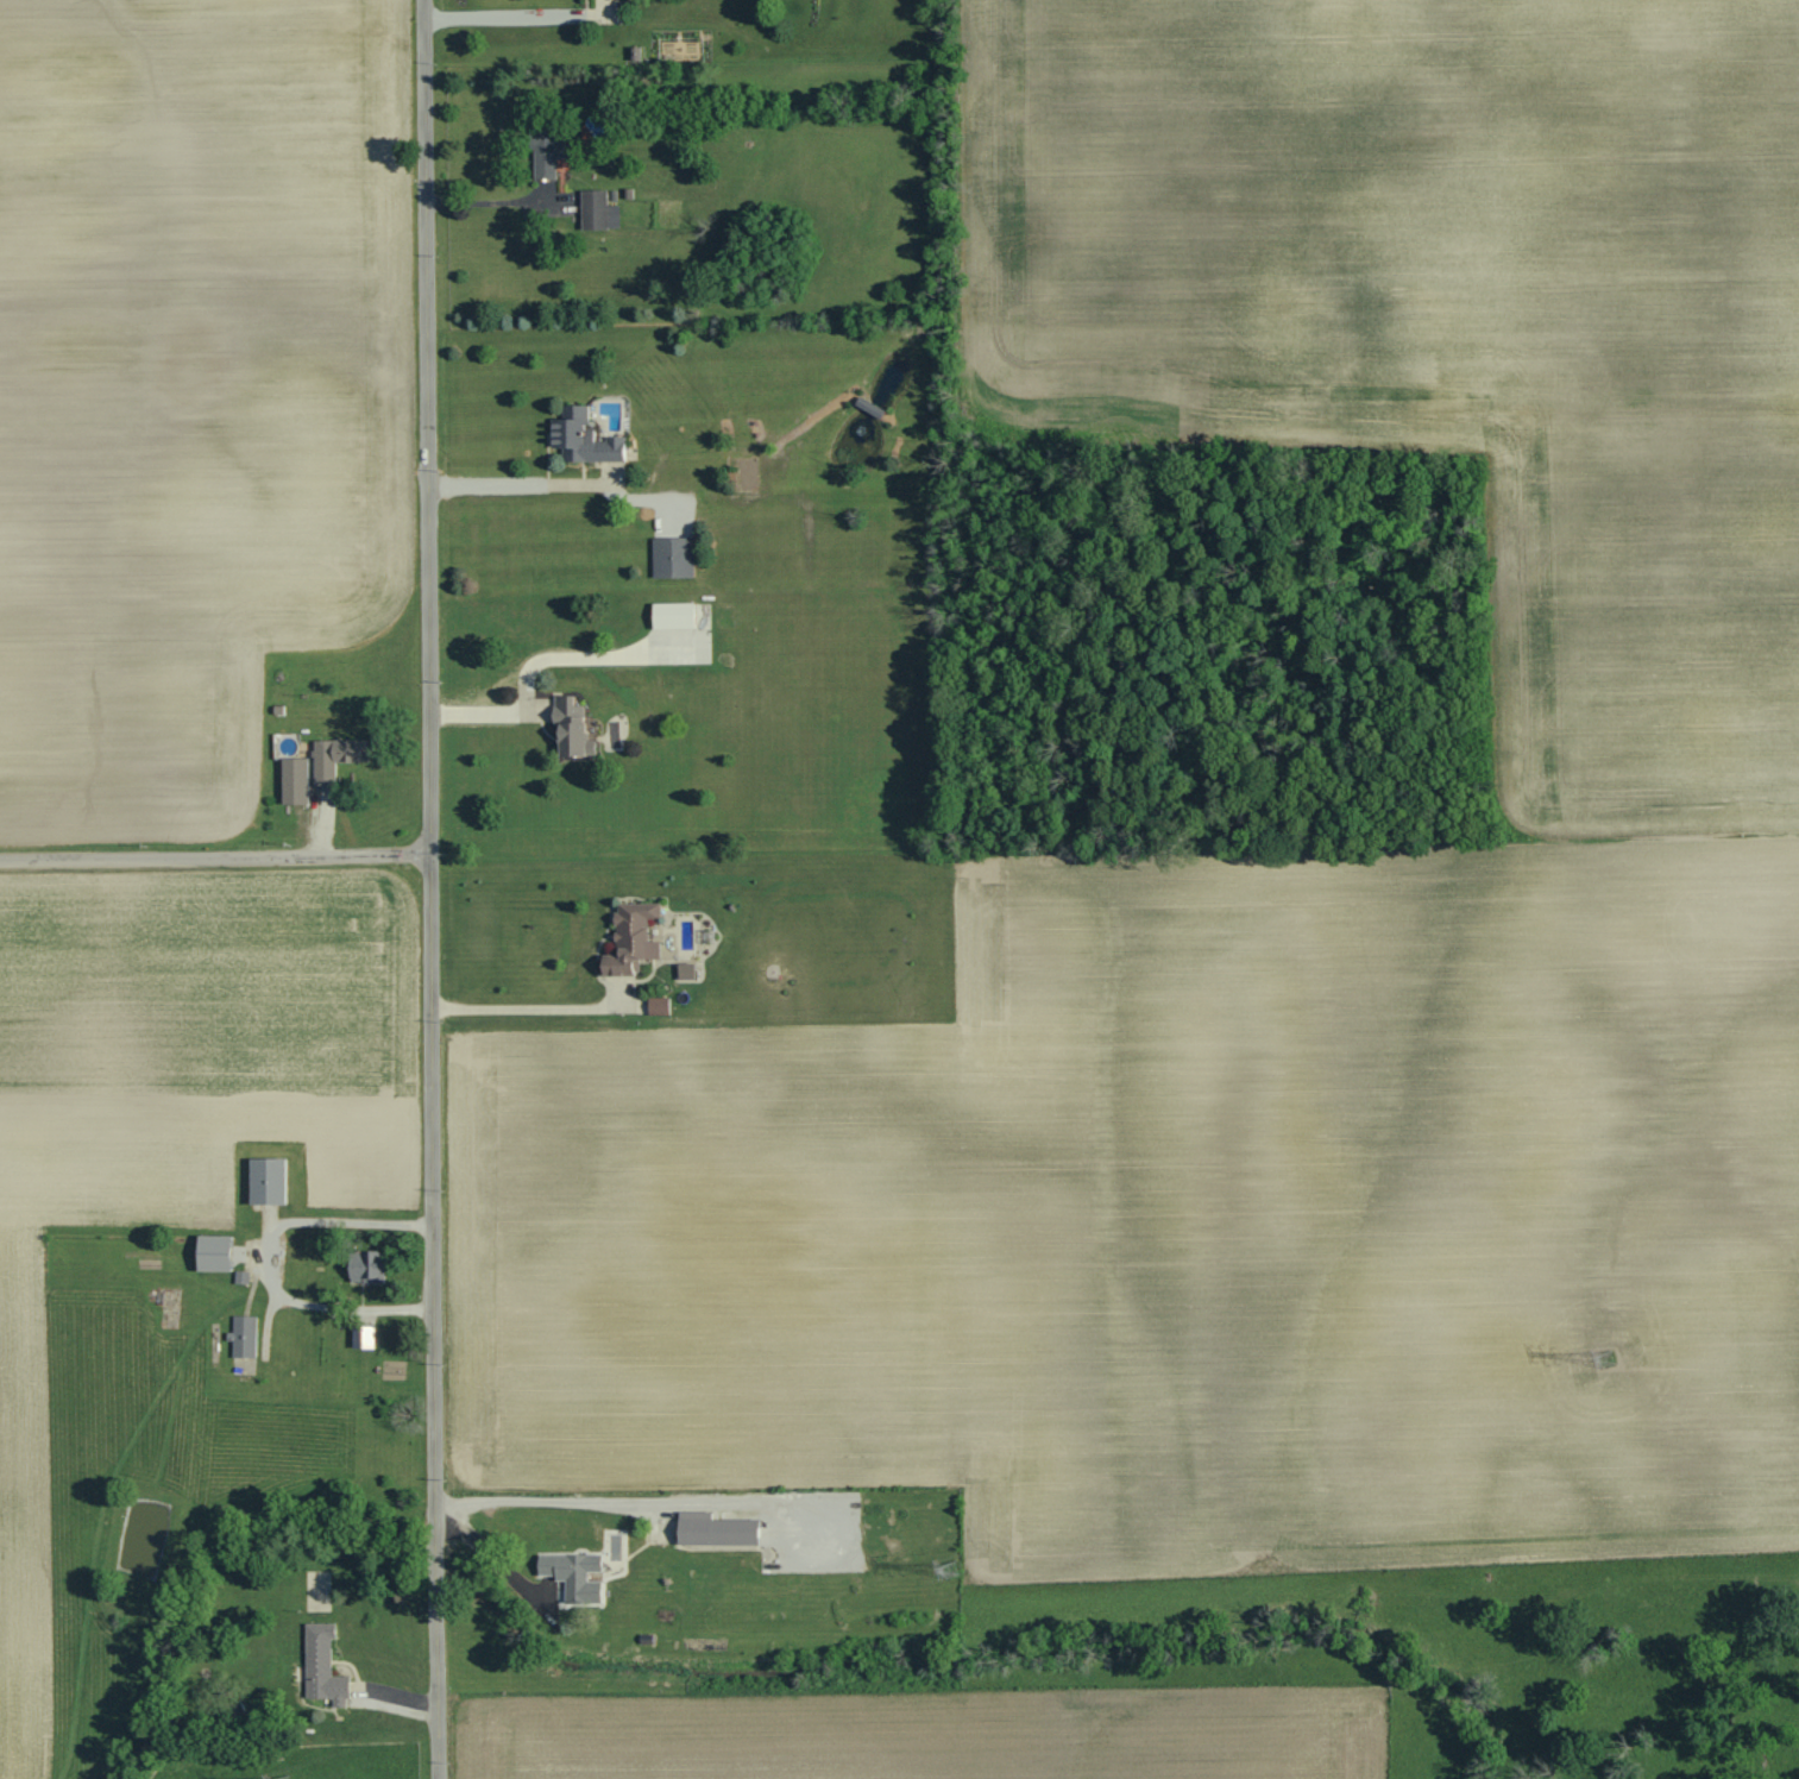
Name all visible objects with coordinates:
road: (521, 15)
building: (545, 149)
road: (498, 202)
building: (592, 207)
building: (872, 407)
building: (581, 435)
road: (528, 484)
building: (671, 554)
building: (672, 612)
road: (540, 659)
building: (570, 724)
building: (335, 759)
building: (296, 781)
road: (215, 856)
road: (432, 888)
building: (630, 936)
building: (687, 972)
building: (656, 1004)
road: (540, 1006)
building: (266, 1178)
building: (213, 1250)
road: (260, 1262)
building: (369, 1268)
building: (245, 1337)
building: (365, 1338)
power tower: (1606, 1359)
road: (540, 1500)
building: (717, 1529)
power tower: (950, 1571)
building: (575, 1576)
building: (325, 1666)

